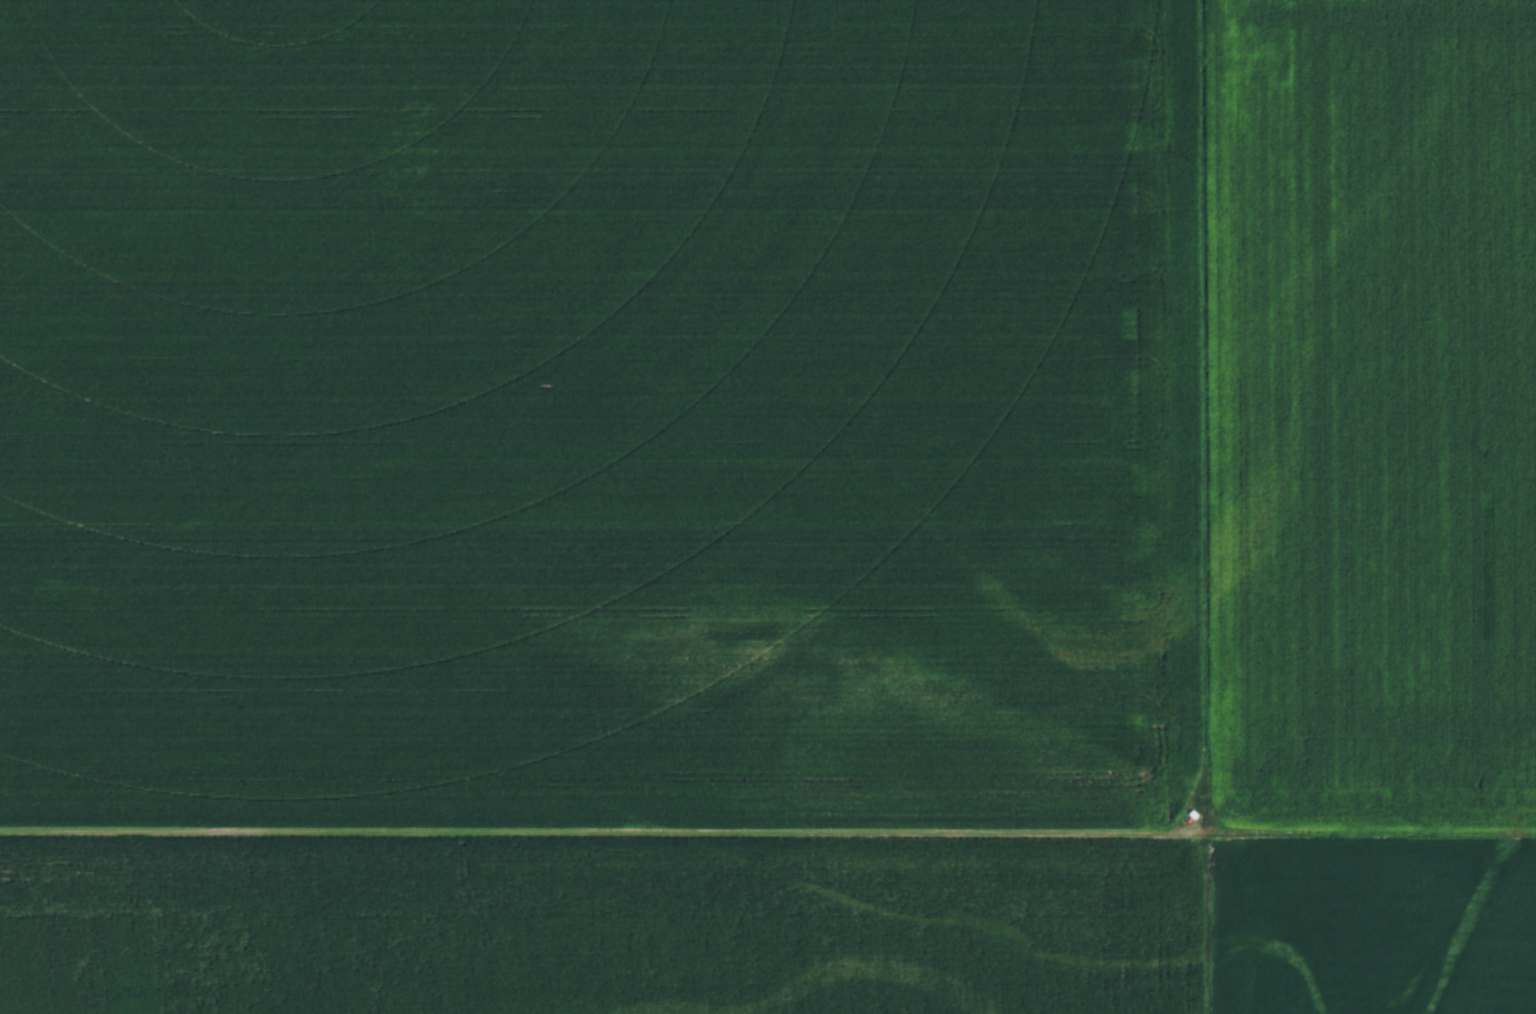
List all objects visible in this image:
road: (769, 838)

